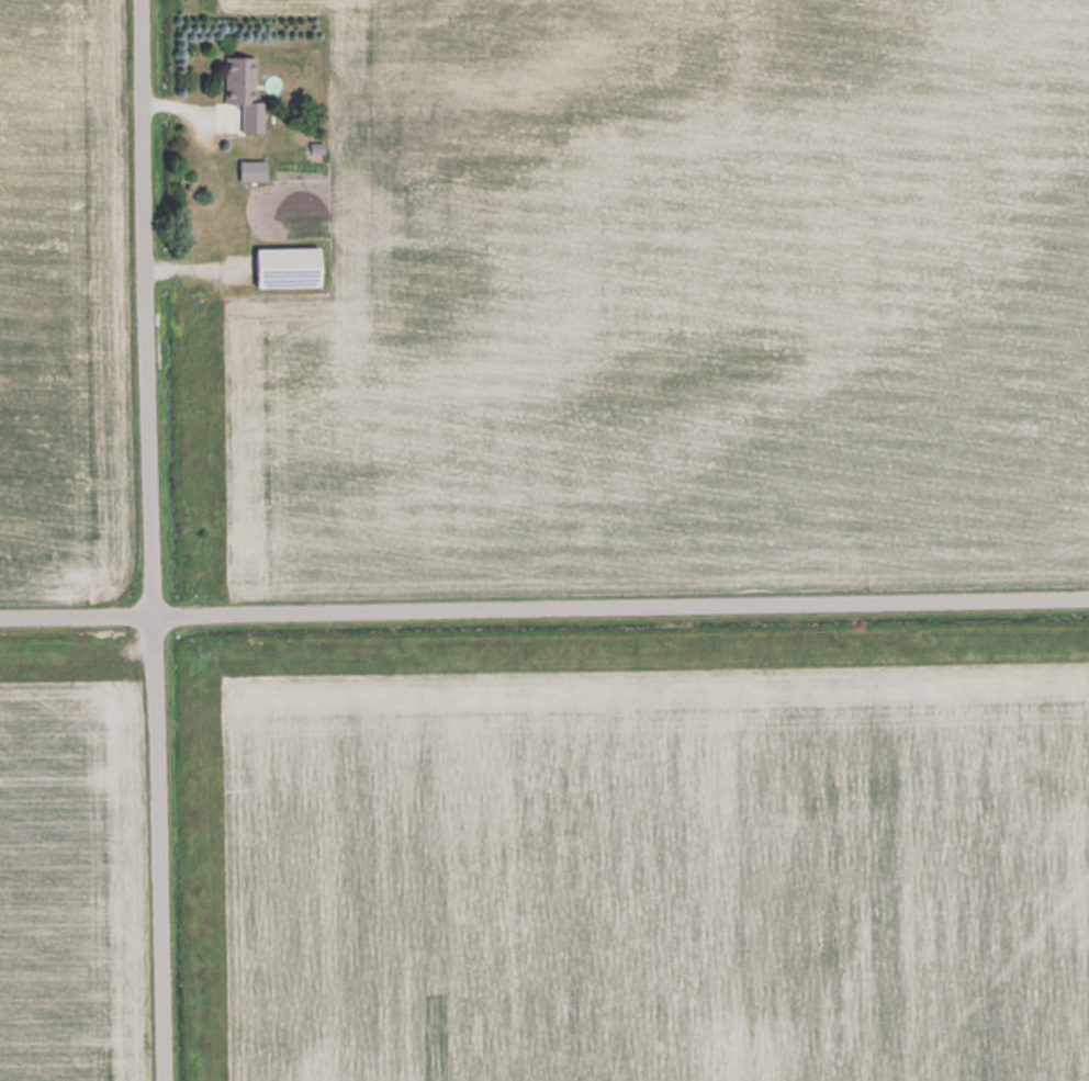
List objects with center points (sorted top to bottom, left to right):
building: (246, 90)
building: (255, 169)
building: (292, 266)
road: (161, 540)
road: (544, 609)

